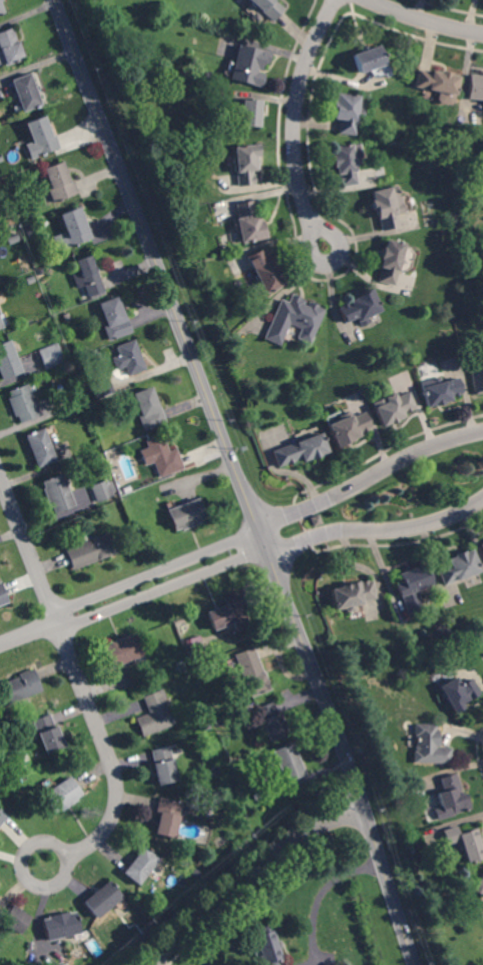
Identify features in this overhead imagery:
building: (267, 8)
building: (1, 10)
road: (424, 20)
building: (9, 49)
building: (368, 61)
building: (249, 66)
building: (436, 82)
building: (475, 88)
building: (26, 93)
building: (248, 113)
building: (347, 114)
road: (295, 122)
building: (41, 137)
building: (346, 164)
building: (245, 165)
building: (58, 183)
building: (387, 208)
building: (21, 216)
building: (248, 223)
building: (73, 228)
building: (12, 239)
building: (391, 263)
building: (39, 273)
building: (263, 274)
building: (86, 277)
building: (30, 281)
building: (361, 309)
building: (114, 320)
building: (294, 321)
building: (1, 325)
building: (51, 356)
building: (129, 359)
building: (8, 362)
building: (477, 381)
building: (102, 389)
building: (440, 392)
building: (22, 404)
building: (394, 409)
building: (148, 410)
building: (349, 430)
building: (40, 449)
building: (301, 451)
building: (163, 457)
road: (370, 477)
road: (239, 479)
building: (128, 490)
building: (103, 491)
building: (57, 495)
building: (187, 515)
building: (316, 521)
road: (377, 535)
building: (481, 547)
building: (91, 552)
building: (458, 568)
building: (412, 588)
road: (132, 592)
building: (3, 596)
building: (352, 596)
building: (225, 614)
building: (194, 645)
building: (122, 651)
building: (252, 673)
road: (81, 685)
building: (18, 688)
building: (459, 694)
building: (153, 714)
building: (270, 722)
building: (46, 734)
building: (430, 747)
building: (288, 763)
building: (163, 766)
building: (60, 796)
building: (226, 796)
building: (451, 799)
building: (2, 817)
building: (167, 817)
building: (327, 843)
building: (466, 844)
building: (140, 867)
road: (247, 876)
building: (478, 886)
road: (319, 896)
building: (101, 900)
building: (12, 918)
building: (59, 926)
building: (143, 938)
building: (268, 946)
road: (146, 963)

